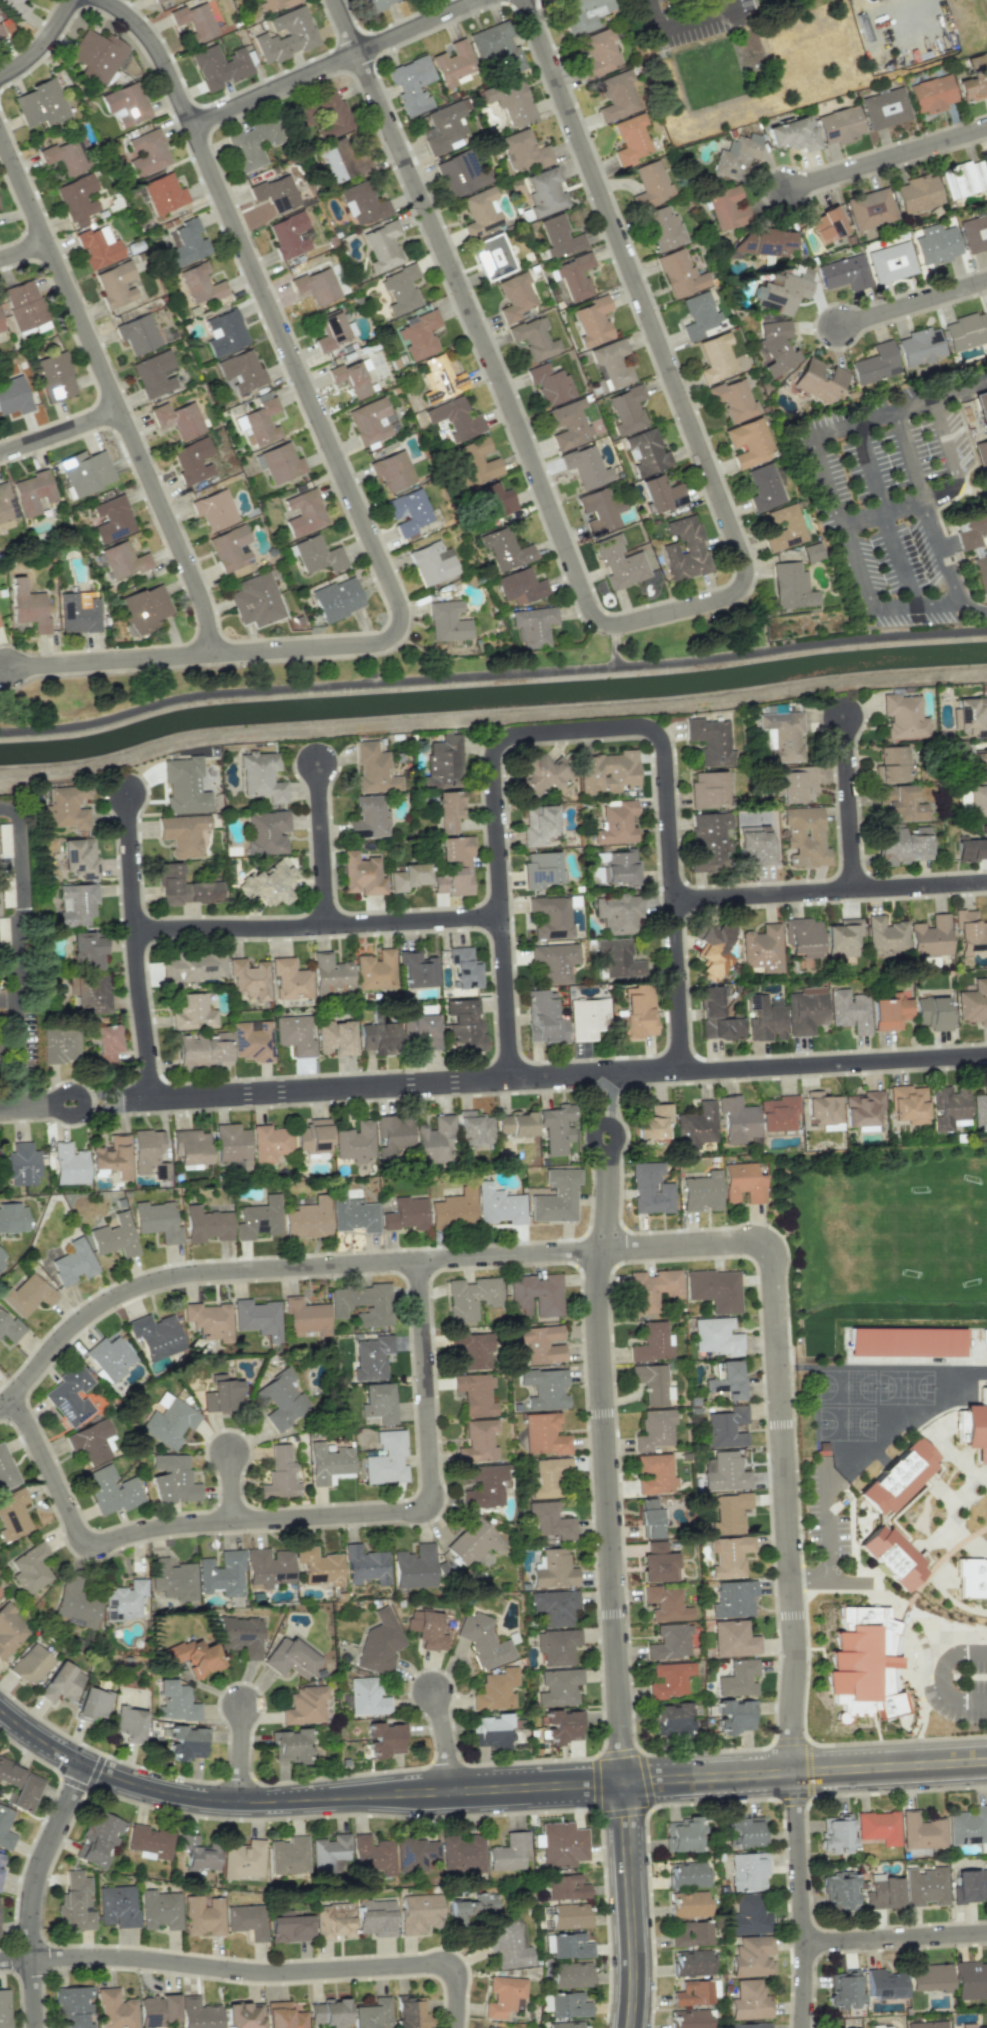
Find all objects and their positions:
building: (157, 0)
building: (274, 5)
building: (373, 5)
building: (13, 6)
building: (583, 14)
building: (194, 21)
road: (684, 24)
building: (0, 33)
building: (286, 35)
road: (42, 45)
building: (497, 49)
building: (598, 53)
building: (96, 56)
road: (336, 61)
building: (453, 64)
building: (219, 66)
building: (974, 78)
building: (412, 84)
building: (931, 94)
building: (616, 95)
building: (507, 99)
building: (41, 104)
building: (885, 108)
building: (324, 116)
building: (840, 125)
building: (793, 134)
building: (630, 140)
building: (252, 143)
building: (523, 151)
building: (146, 153)
building: (65, 155)
building: (736, 156)
building: (986, 157)
building: (343, 159)
road: (887, 159)
building: (462, 173)
building: (963, 179)
building: (651, 185)
building: (544, 191)
building: (276, 192)
building: (918, 193)
building: (163, 194)
building: (77, 199)
building: (363, 203)
building: (726, 208)
building: (870, 209)
building: (481, 212)
building: (827, 224)
building: (663, 228)
building: (974, 233)
building: (289, 235)
building: (559, 236)
building: (762, 242)
building: (188, 243)
building: (936, 244)
building: (382, 246)
building: (98, 247)
road: (24, 250)
building: (493, 256)
building: (890, 262)
building: (843, 273)
building: (680, 274)
building: (575, 277)
road: (637, 283)
building: (116, 284)
building: (199, 284)
building: (317, 286)
building: (400, 290)
building: (784, 290)
building: (515, 296)
road: (914, 303)
building: (24, 304)
building: (699, 315)
building: (592, 321)
building: (0, 328)
building: (330, 331)
building: (966, 331)
building: (225, 332)
building: (138, 334)
building: (419, 334)
building: (534, 338)
building: (920, 346)
building: (776, 347)
building: (716, 357)
building: (611, 364)
building: (876, 364)
building: (240, 371)
building: (154, 373)
building: (54, 376)
building: (351, 378)
building: (440, 379)
building: (819, 380)
building: (549, 384)
road: (111, 388)
road: (498, 388)
building: (13, 396)
building: (733, 399)
road: (898, 408)
building: (627, 410)
building: (983, 414)
building: (178, 419)
building: (455, 419)
building: (371, 420)
building: (568, 424)
road: (61, 433)
building: (749, 441)
building: (646, 452)
building: (192, 460)
building: (475, 462)
building: (281, 463)
building: (586, 467)
building: (86, 471)
building: (391, 472)
building: (764, 486)
road: (350, 488)
building: (32, 492)
road: (943, 492)
building: (661, 493)
building: (493, 501)
building: (4, 508)
building: (214, 509)
road: (925, 509)
building: (601, 510)
building: (407, 511)
building: (304, 512)
road: (884, 515)
building: (112, 519)
building: (784, 528)
building: (971, 531)
building: (504, 549)
building: (685, 549)
building: (231, 552)
building: (812, 552)
building: (317, 554)
building: (123, 560)
building: (619, 562)
building: (432, 563)
building: (981, 573)
road: (858, 579)
building: (520, 586)
building: (791, 586)
building: (337, 599)
building: (255, 600)
building: (28, 606)
building: (145, 608)
building: (78, 613)
building: (447, 621)
building: (533, 625)
road: (616, 648)
road: (376, 667)
road: (492, 681)
building: (972, 716)
building: (904, 717)
road: (578, 728)
building: (783, 736)
building: (768, 739)
building: (711, 741)
building: (444, 762)
building: (979, 764)
building: (891, 765)
building: (374, 769)
building: (609, 772)
building: (542, 774)
building: (261, 776)
building: (184, 785)
building: (796, 785)
building: (707, 789)
building: (962, 797)
building: (977, 799)
road: (850, 801)
building: (901, 802)
building: (67, 807)
building: (448, 810)
building: (369, 817)
building: (538, 823)
building: (267, 832)
building: (183, 834)
building: (804, 836)
building: (4, 840)
building: (709, 841)
road: (321, 843)
building: (755, 845)
building: (903, 846)
building: (972, 846)
building: (78, 859)
building: (455, 867)
building: (620, 868)
building: (540, 869)
building: (360, 874)
building: (409, 877)
building: (268, 884)
building: (184, 887)
road: (829, 889)
building: (76, 903)
road: (19, 909)
building: (618, 913)
building: (551, 916)
road: (317, 925)
building: (969, 932)
building: (885, 935)
building: (803, 936)
building: (930, 937)
building: (843, 940)
road: (134, 945)
building: (762, 948)
building: (714, 949)
building: (86, 950)
building: (619, 958)
building: (555, 960)
building: (192, 967)
building: (463, 967)
building: (417, 969)
building: (376, 970)
building: (331, 974)
building: (249, 979)
building: (289, 979)
building: (90, 993)
building: (974, 1002)
building: (805, 1010)
building: (849, 1011)
building: (191, 1012)
building: (890, 1012)
building: (637, 1013)
building: (933, 1013)
building: (717, 1016)
building: (765, 1017)
building: (543, 1018)
building: (587, 1018)
building: (465, 1023)
building: (419, 1026)
building: (294, 1034)
road: (21, 1038)
building: (336, 1038)
building: (379, 1038)
building: (252, 1040)
building: (108, 1044)
building: (60, 1045)
building: (203, 1050)
road: (493, 1080)
road: (22, 1091)
building: (908, 1104)
building: (949, 1107)
building: (822, 1108)
building: (863, 1109)
building: (979, 1111)
building: (778, 1113)
building: (737, 1119)
building: (653, 1121)
building: (515, 1124)
building: (696, 1126)
building: (557, 1127)
building: (474, 1128)
building: (391, 1135)
building: (312, 1136)
building: (434, 1140)
building: (231, 1142)
building: (355, 1142)
building: (269, 1143)
building: (190, 1147)
building: (148, 1153)
building: (111, 1156)
road: (608, 1163)
building: (22, 1164)
building: (69, 1164)
building: (743, 1183)
building: (650, 1189)
building: (701, 1192)
building: (556, 1197)
building: (499, 1205)
building: (454, 1209)
building: (353, 1213)
building: (405, 1214)
building: (13, 1218)
building: (259, 1218)
building: (308, 1219)
building: (157, 1221)
building: (207, 1224)
building: (114, 1236)
road: (688, 1247)
building: (2, 1258)
building: (73, 1262)
road: (276, 1268)
building: (652, 1289)
building: (715, 1289)
building: (536, 1294)
building: (27, 1295)
building: (470, 1298)
building: (363, 1303)
building: (306, 1317)
building: (258, 1318)
building: (210, 1320)
building: (10, 1328)
building: (156, 1336)
building: (715, 1336)
building: (652, 1342)
building: (541, 1343)
building: (472, 1350)
building: (109, 1357)
building: (371, 1357)
building: (727, 1381)
building: (652, 1384)
park: (847, 1386)
park: (906, 1386)
building: (545, 1388)
building: (222, 1394)
building: (475, 1394)
building: (70, 1395)
building: (280, 1399)
building: (378, 1403)
building: (169, 1423)
park: (847, 1423)
building: (974, 1426)
building: (727, 1427)
building: (654, 1429)
building: (544, 1434)
building: (92, 1441)
building: (478, 1442)
building: (386, 1459)
building: (329, 1462)
building: (6, 1470)
building: (725, 1472)
building: (655, 1473)
building: (279, 1474)
building: (897, 1476)
building: (548, 1477)
building: (172, 1478)
road: (232, 1486)
building: (485, 1486)
building: (110, 1490)
road: (786, 1507)
building: (728, 1512)
building: (13, 1515)
road: (300, 1517)
road: (606, 1517)
building: (650, 1518)
building: (550, 1521)
building: (473, 1542)
building: (729, 1555)
building: (891, 1557)
building: (657, 1563)
building: (365, 1565)
building: (319, 1566)
building: (268, 1567)
building: (418, 1567)
building: (29, 1568)
building: (554, 1570)
building: (221, 1574)
building: (972, 1578)
building: (172, 1579)
building: (733, 1599)
building: (124, 1601)
building: (75, 1602)
building: (665, 1603)
building: (555, 1606)
building: (426, 1629)
building: (10, 1630)
building: (238, 1635)
building: (733, 1639)
building: (483, 1641)
building: (670, 1642)
building: (379, 1643)
building: (557, 1646)
road: (973, 1652)
building: (193, 1656)
building: (289, 1657)
road: (943, 1659)
building: (31, 1664)
building: (863, 1664)
building: (670, 1679)
building: (738, 1679)
building: (61, 1682)
building: (559, 1687)
building: (496, 1690)
road: (945, 1691)
building: (366, 1697)
road: (973, 1700)
building: (175, 1701)
building: (92, 1704)
building: (304, 1705)
building: (734, 1716)
building: (672, 1718)
building: (128, 1723)
building: (560, 1726)
building: (492, 1730)
building: (384, 1739)
road: (446, 1741)
building: (185, 1742)
building: (290, 1746)
road: (242, 1753)
road: (891, 1768)
road: (709, 1778)
building: (20, 1785)
road: (299, 1801)
building: (967, 1826)
building: (878, 1827)
building: (5, 1829)
building: (744, 1831)
building: (836, 1832)
building: (921, 1832)
building: (681, 1834)
building: (98, 1838)
building: (149, 1842)
building: (562, 1844)
building: (462, 1852)
building: (508, 1852)
building: (198, 1854)
building: (415, 1854)
building: (288, 1855)
building: (328, 1855)
building: (372, 1855)
building: (242, 1859)
building: (1, 1860)
building: (748, 1871)
building: (687, 1874)
building: (925, 1886)
building: (970, 1886)
building: (566, 1887)
building: (838, 1889)
road: (34, 1890)
building: (883, 1891)
road: (802, 1900)
building: (75, 1904)
building: (688, 1904)
road: (628, 1905)
building: (117, 1906)
building: (473, 1907)
building: (159, 1909)
building: (418, 1913)
building: (748, 1915)
building: (202, 1916)
building: (569, 1916)
building: (375, 1917)
building: (246, 1920)
building: (333, 1920)
building: (289, 1927)
building: (691, 1933)
road: (896, 1937)
building: (507, 1943)
building: (568, 1946)
building: (752, 1956)
road: (16, 1958)
building: (692, 1963)
road: (275, 1971)
building: (571, 1975)
building: (929, 1977)
building: (970, 1980)
building: (885, 1984)
building: (844, 1990)
building: (693, 1993)
building: (503, 1995)
building: (749, 2001)
building: (567, 2005)
building: (73, 2007)
building: (4, 2008)
building: (115, 2010)
building: (157, 2010)
building: (409, 2012)
building: (199, 2013)
building: (328, 2013)
building: (372, 2014)
building: (243, 2015)
building: (283, 2016)
building: (689, 2019)
building: (927, 2024)
building: (565, 2025)
building: (748, 2025)
building: (967, 2025)
building: (488, 2027)
building: (986, 2027)

